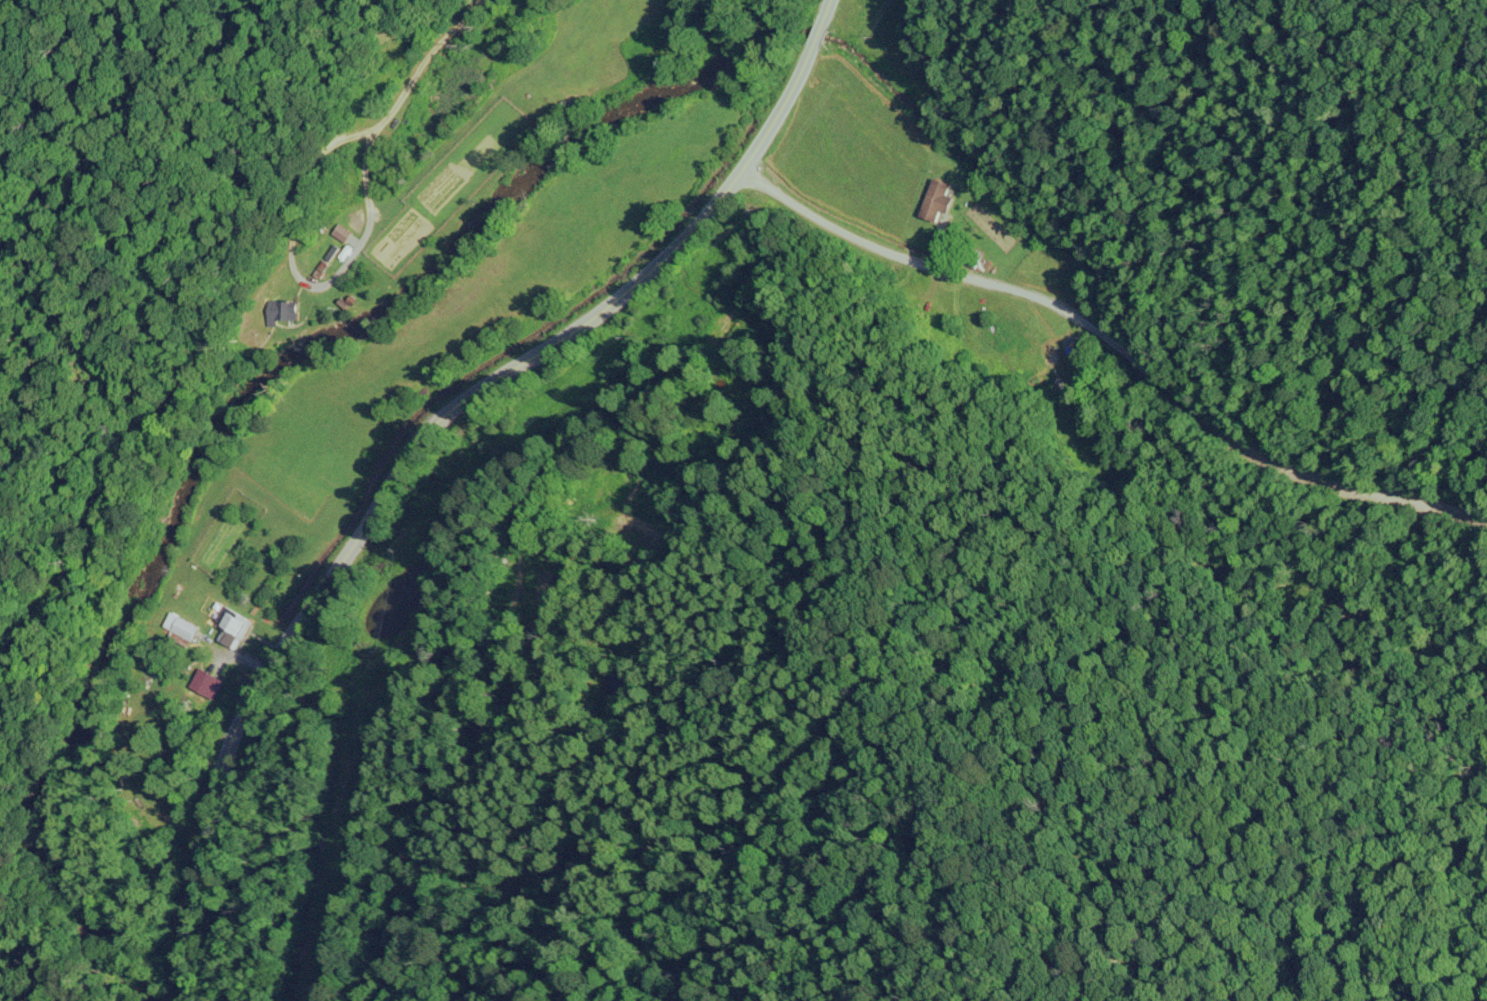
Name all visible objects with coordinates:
road: (1117, 342)
road: (417, 440)
building: (235, 623)
building: (184, 624)
road: (245, 654)

